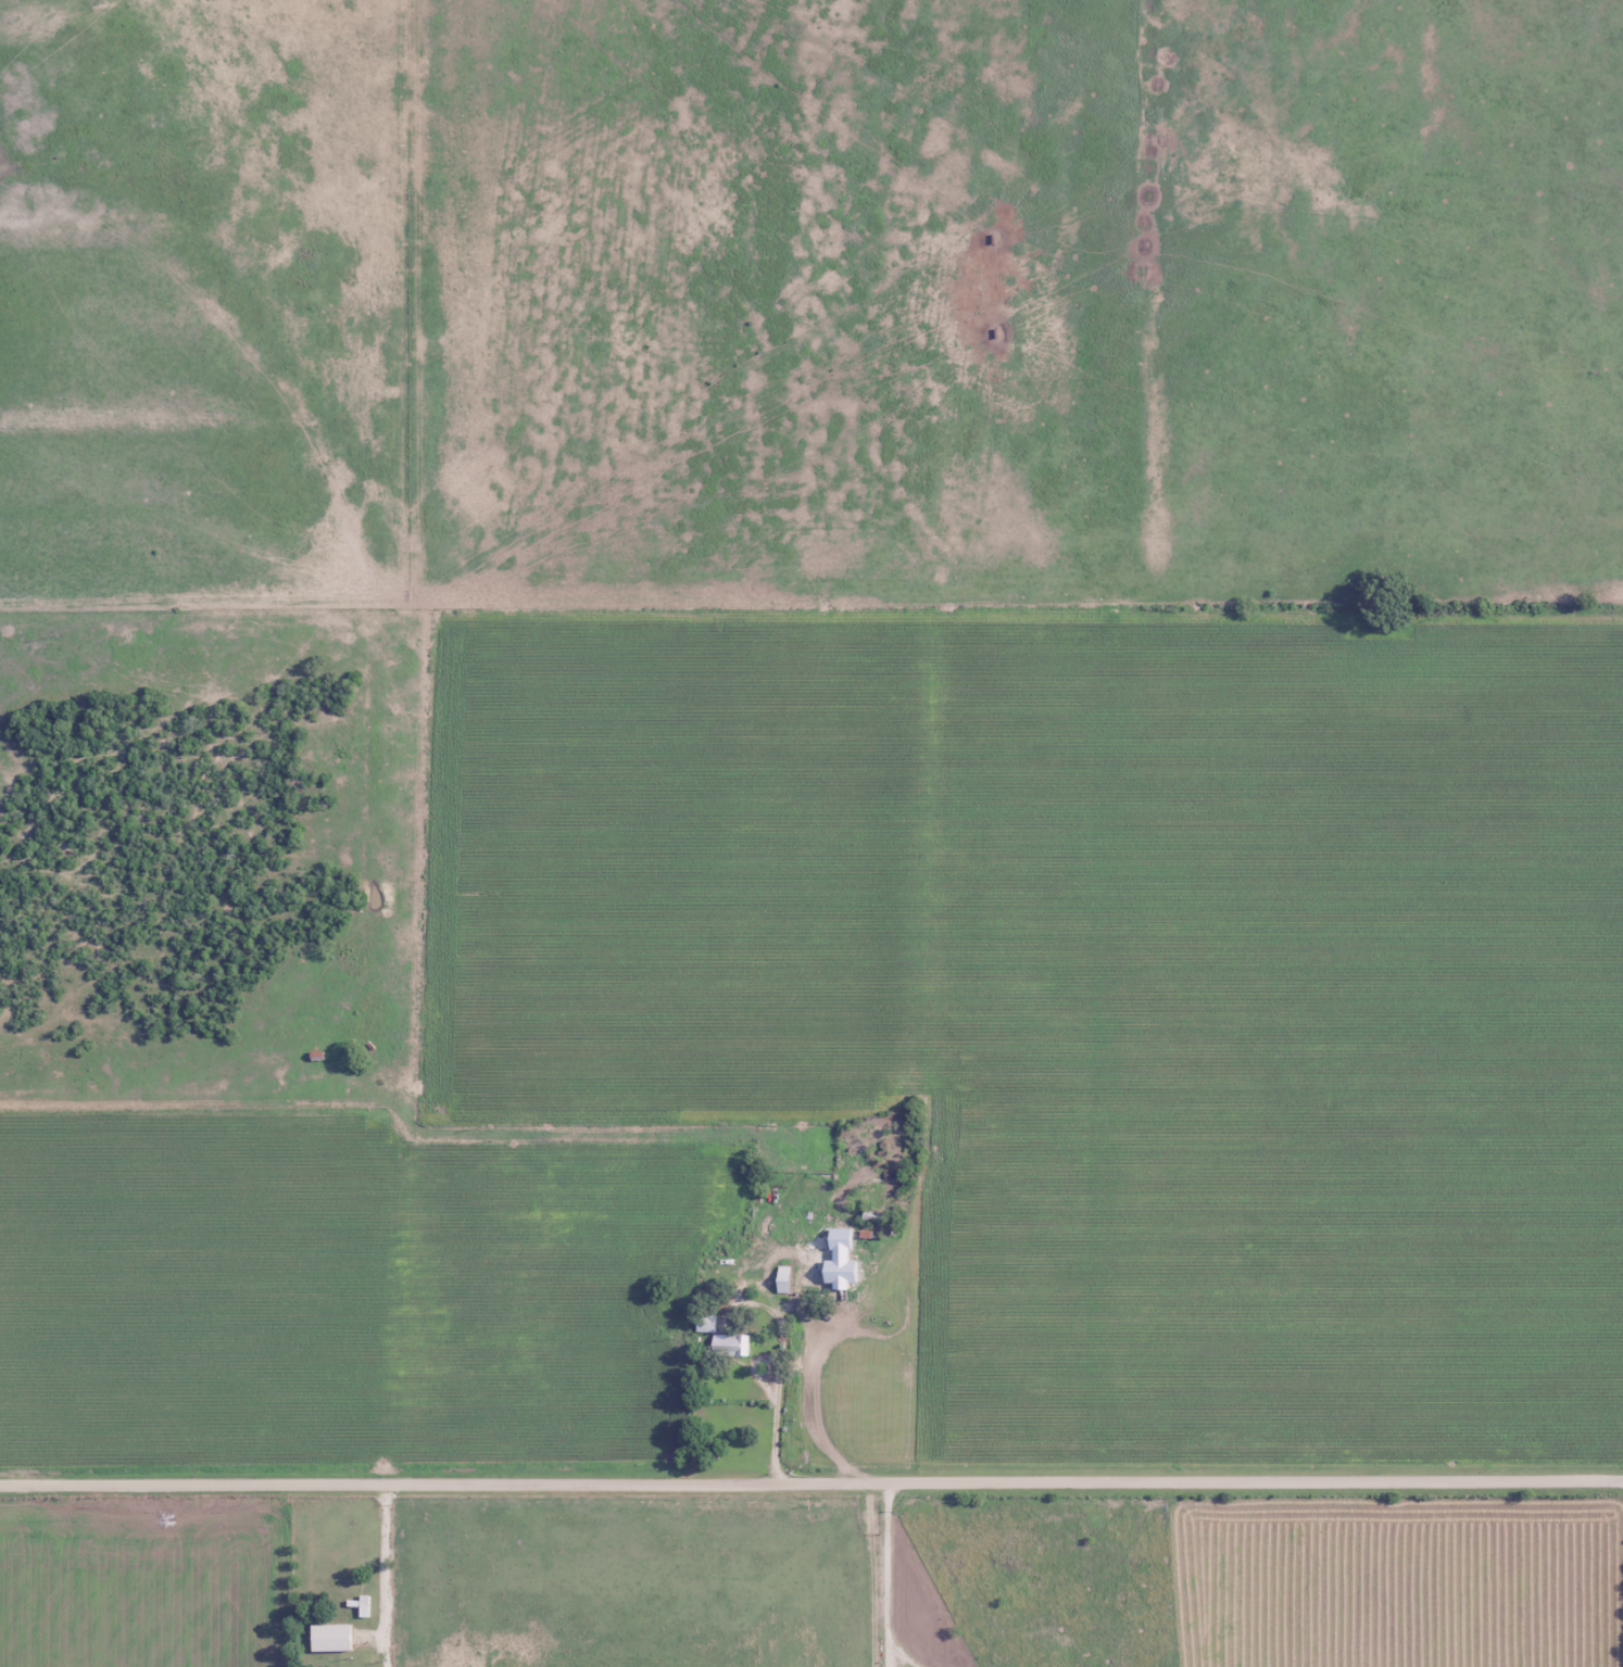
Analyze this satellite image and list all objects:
road: (695, 1155)
building: (707, 1325)
building: (730, 1346)
road: (811, 1482)
road: (383, 1570)
road: (872, 1574)
road: (253, 1576)
road: (888, 1576)
building: (364, 1606)

